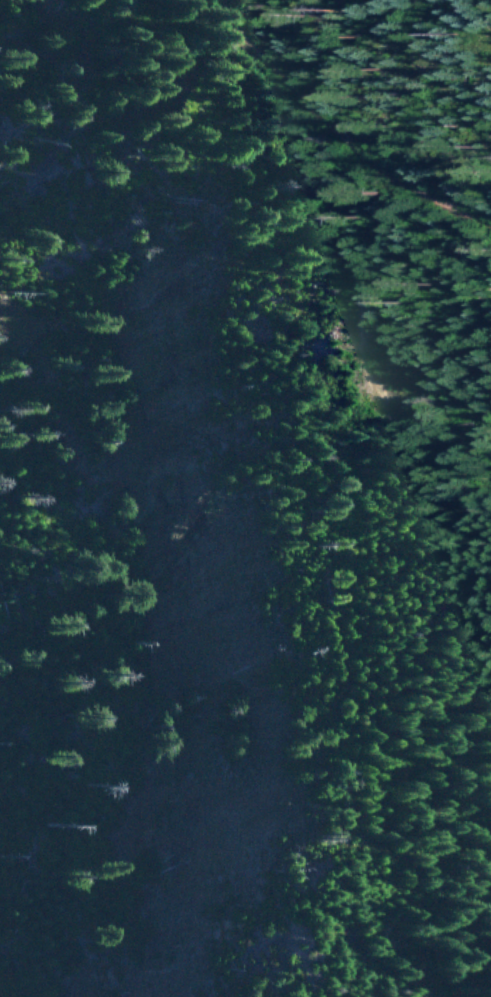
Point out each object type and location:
road: (331, 129)
road: (359, 333)

